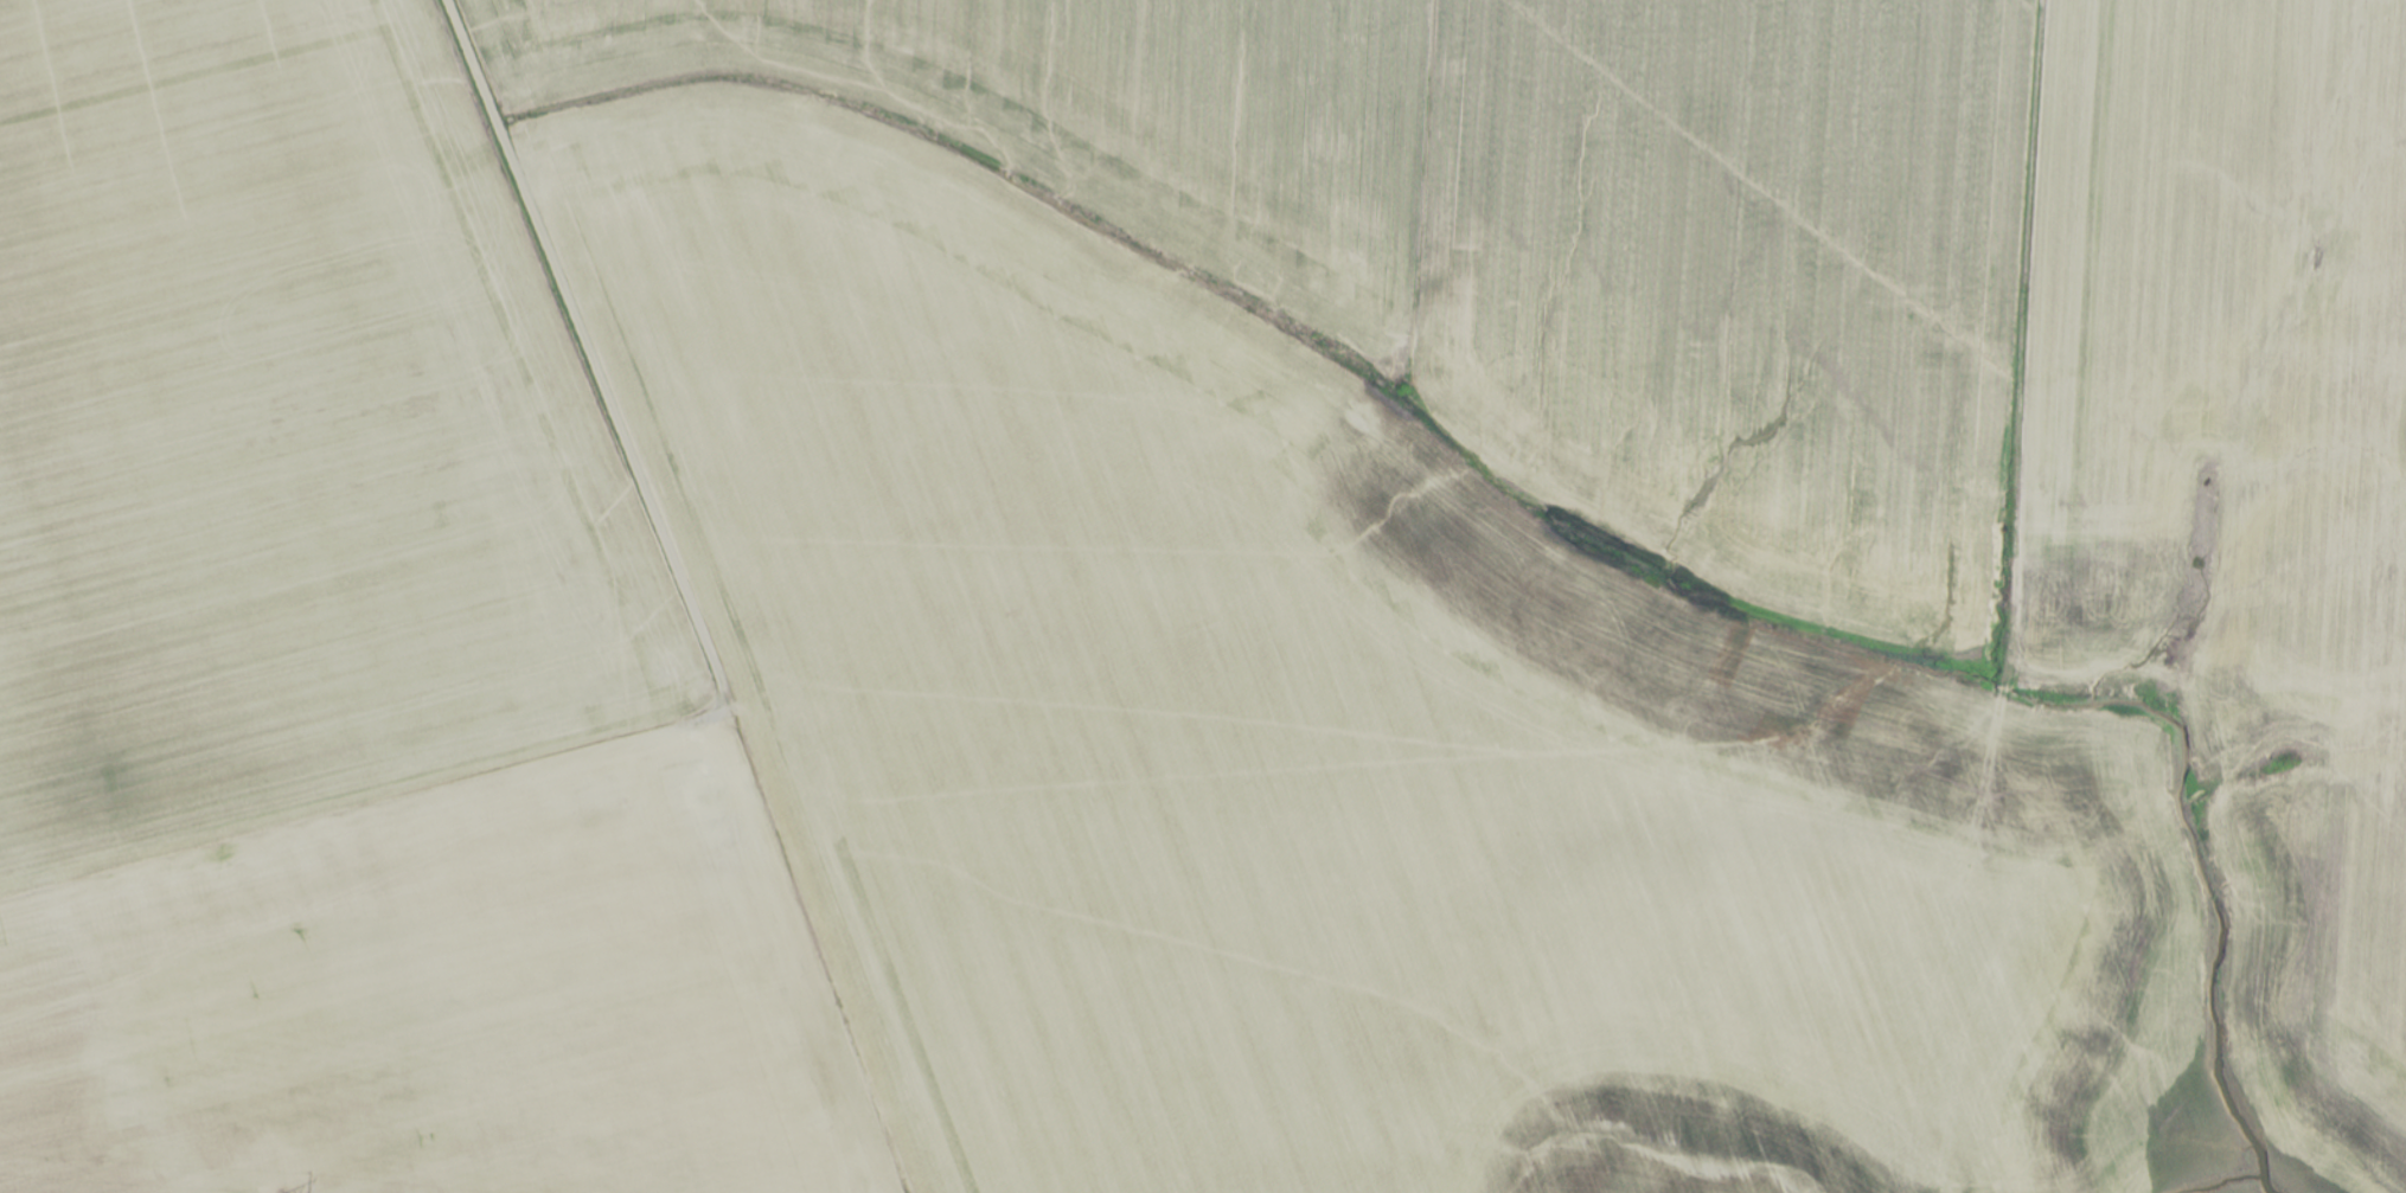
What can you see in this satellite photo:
road: (593, 354)

